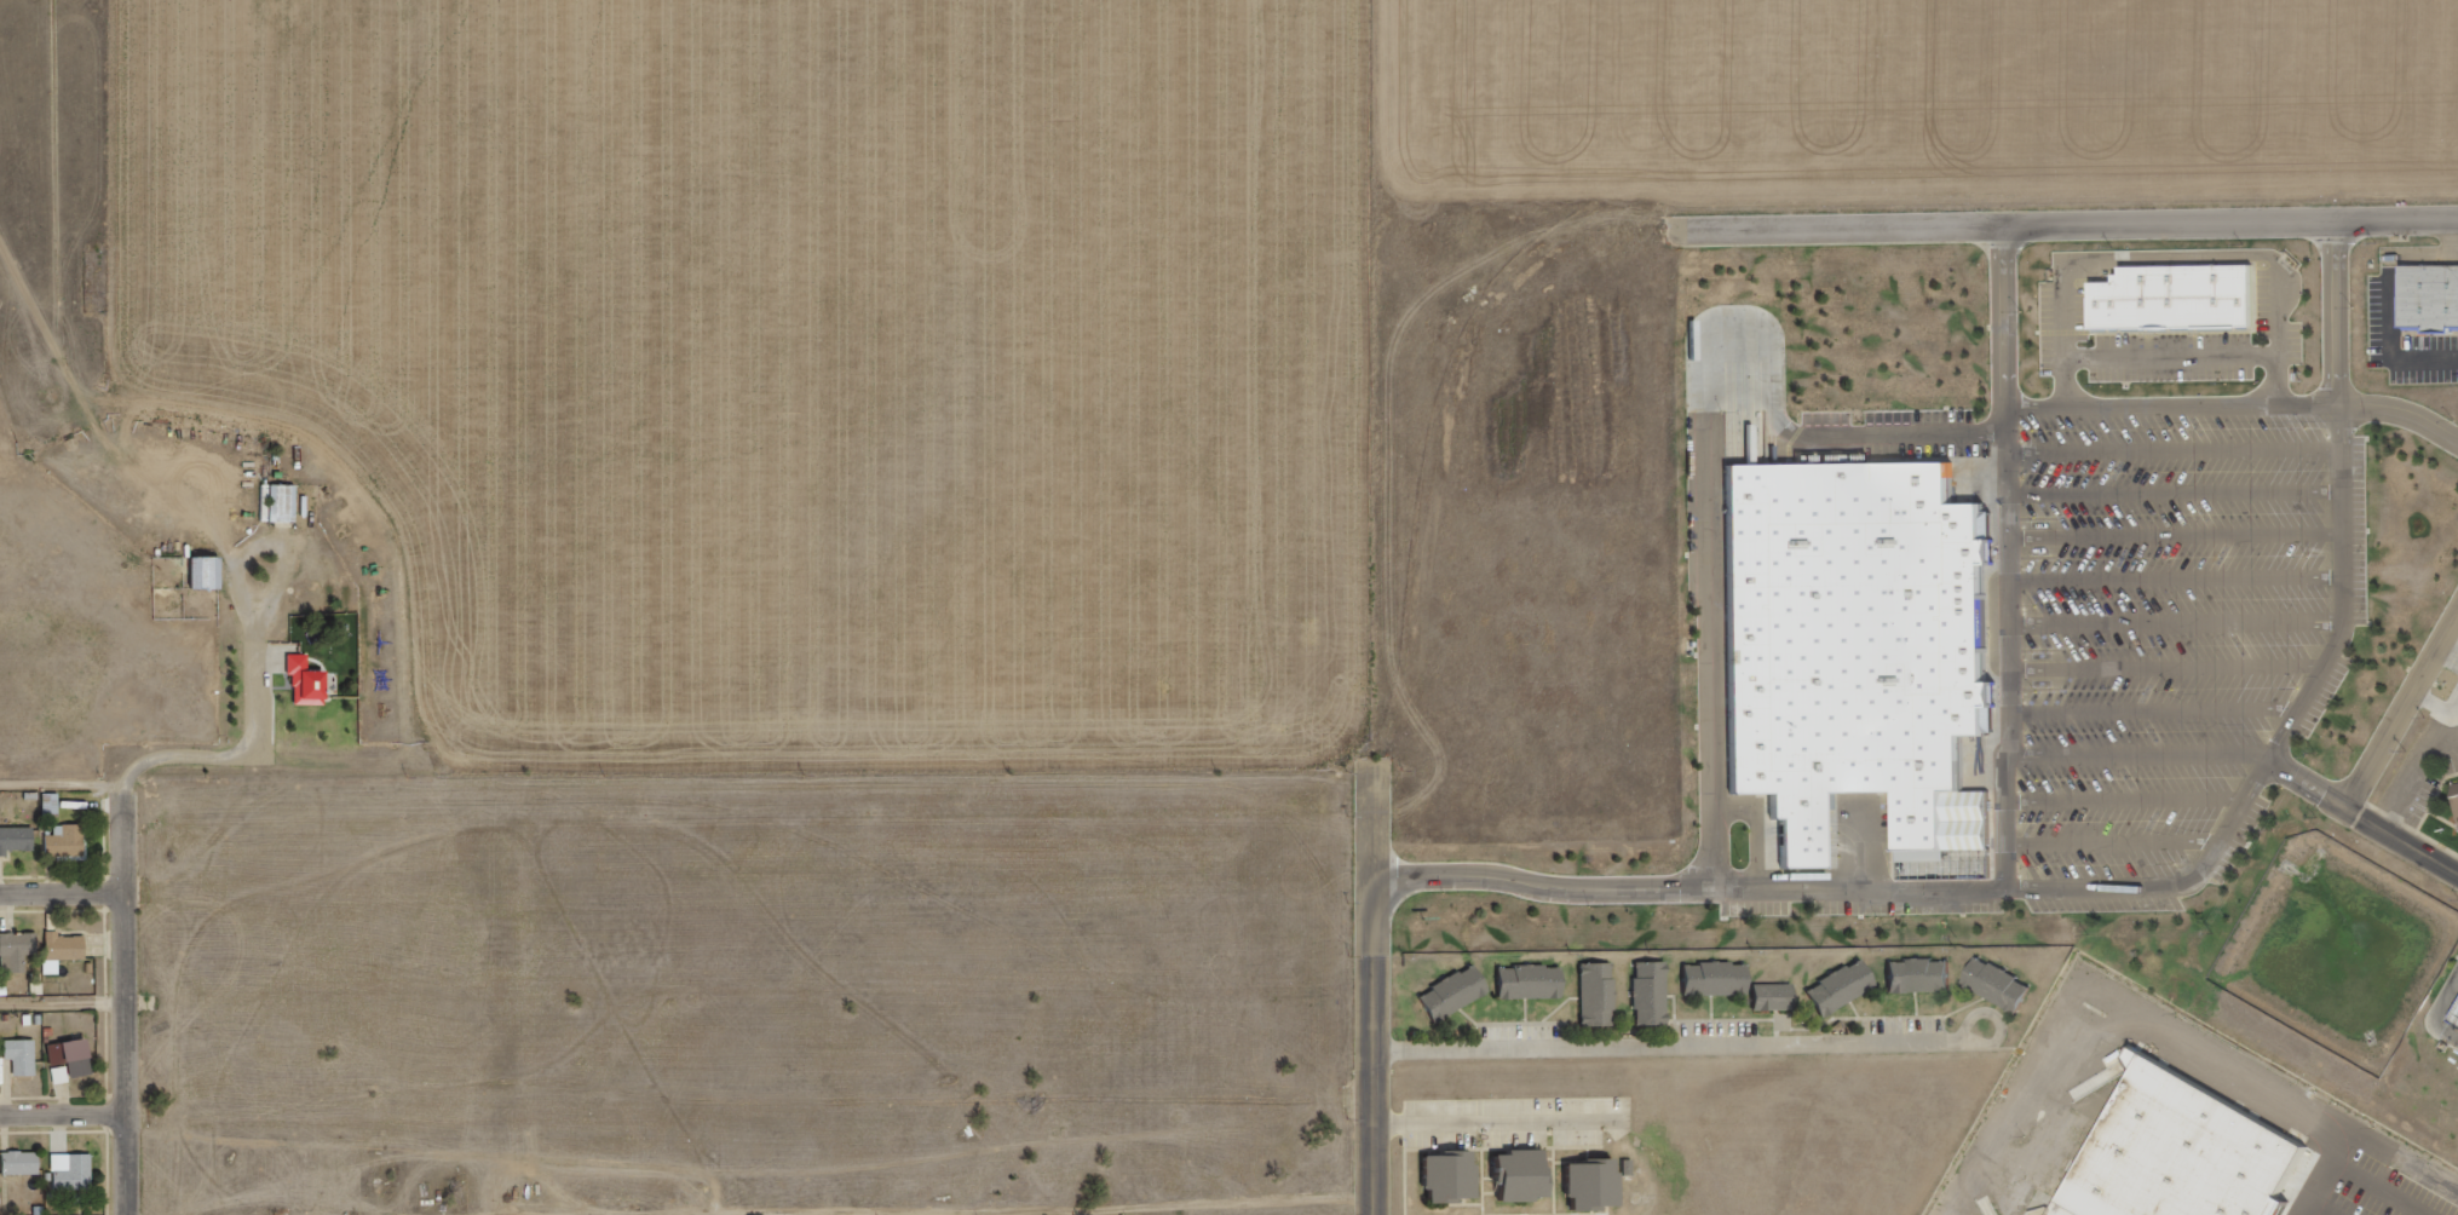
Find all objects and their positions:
road: (2065, 224)
building: (2433, 301)
building: (2181, 303)
road: (2233, 407)
road: (1704, 450)
road: (2177, 453)
road: (2177, 497)
building: (283, 508)
road: (2178, 541)
road: (2005, 557)
building: (208, 578)
road: (2178, 583)
road: (2177, 628)
parking lot: (2182, 643)
building: (1857, 644)
road: (2168, 673)
building: (311, 686)
road: (2402, 706)
road: (2155, 719)
road: (313, 762)
road: (2142, 762)
road: (2314, 784)
road: (67, 788)
building: (2457, 793)
building: (2457, 796)
building: (53, 802)
road: (2128, 806)
road: (2402, 837)
building: (17, 845)
building: (73, 847)
road: (2112, 847)
road: (2137, 891)
road: (65, 892)
building: (68, 952)
road: (131, 952)
building: (19, 956)
building: (1924, 979)
building: (1720, 981)
building: (1533, 985)
building: (39, 986)
building: (2004, 989)
building: (1844, 992)
building: (1456, 997)
building: (1656, 997)
building: (1604, 1000)
building: (1778, 1000)
road: (65, 1009)
building: (2457, 1024)
gas station: (2457, 1024)
road: (1377, 1046)
road: (1735, 1052)
building: (24, 1054)
building: (74, 1058)
road: (67, 1121)
road: (1508, 1125)
building: (2186, 1156)
building: (25, 1162)
building: (75, 1170)
building: (1451, 1180)
building: (1521, 1180)
building: (1593, 1187)
road: (2364, 1192)
road: (1198, 1209)
building: (2067, 1211)

